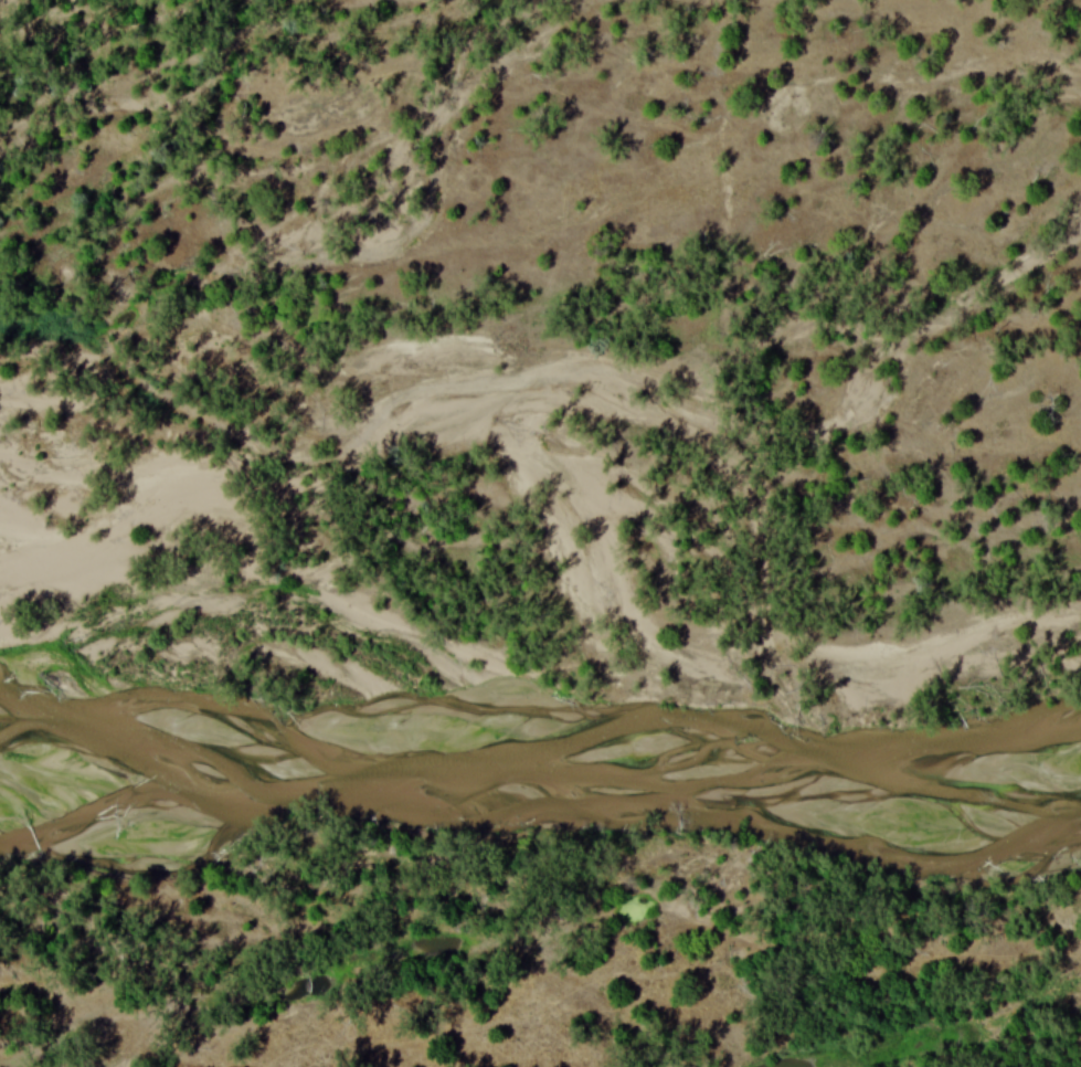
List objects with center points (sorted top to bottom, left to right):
river: (536, 789)

